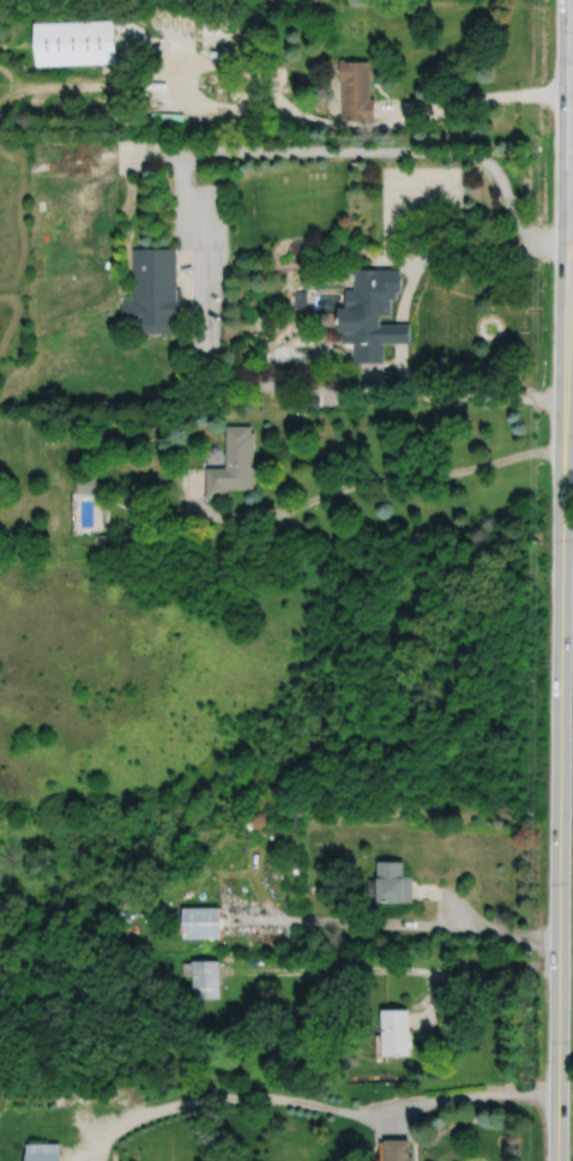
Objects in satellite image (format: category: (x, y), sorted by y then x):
building: (215, 38)
building: (76, 44)
building: (356, 92)
road: (475, 96)
road: (216, 107)
road: (356, 150)
road: (571, 178)
parking lot: (422, 186)
road: (391, 190)
road: (569, 200)
road: (571, 207)
road: (471, 246)
road: (290, 265)
road: (406, 289)
building: (155, 290)
building: (301, 297)
building: (373, 313)
road: (400, 332)
road: (193, 344)
road: (403, 367)
road: (275, 384)
building: (315, 401)
building: (76, 420)
building: (235, 463)
road: (358, 480)
building: (88, 483)
building: (105, 539)
road: (559, 780)
building: (393, 884)
road: (265, 900)
road: (453, 902)
road: (257, 921)
building: (201, 922)
road: (379, 924)
road: (515, 937)
road: (477, 971)
building: (205, 976)
building: (394, 1030)
road: (477, 1094)
road: (257, 1097)
road: (82, 1139)
road: (92, 1148)
building: (397, 1149)
building: (43, 1151)
building: (12, 1154)

